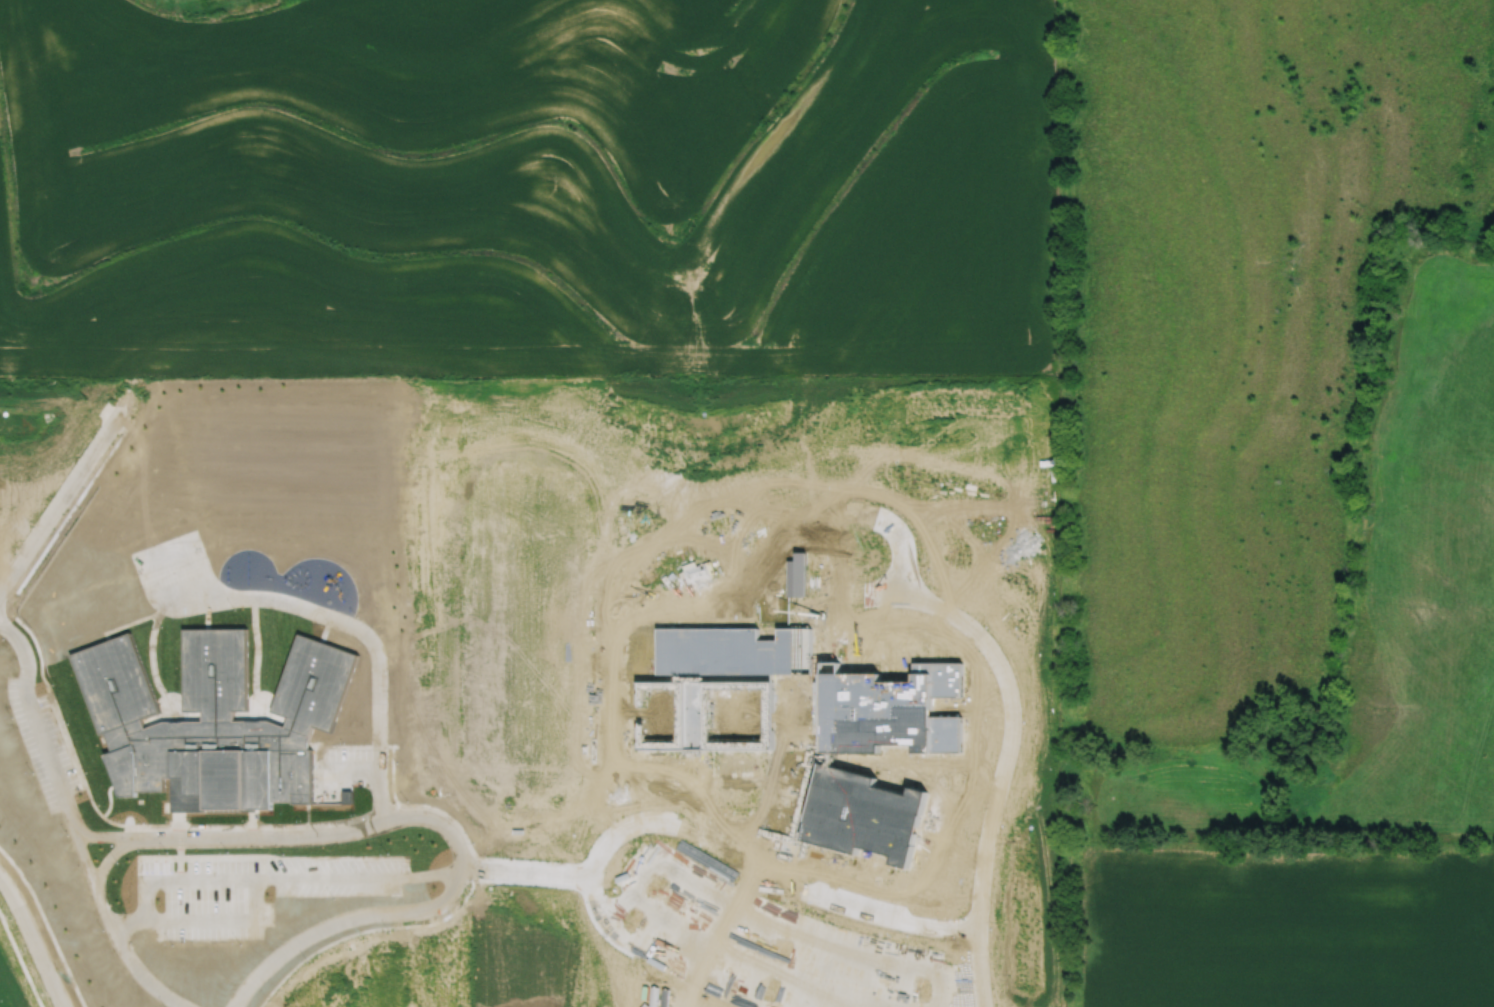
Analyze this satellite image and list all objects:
road: (60, 503)
road: (19, 644)
road: (38, 739)
road: (67, 818)
road: (347, 826)
road: (100, 834)
road: (82, 862)
road: (355, 874)
road: (161, 878)
road: (213, 915)
road: (32, 943)
road: (812, 987)

